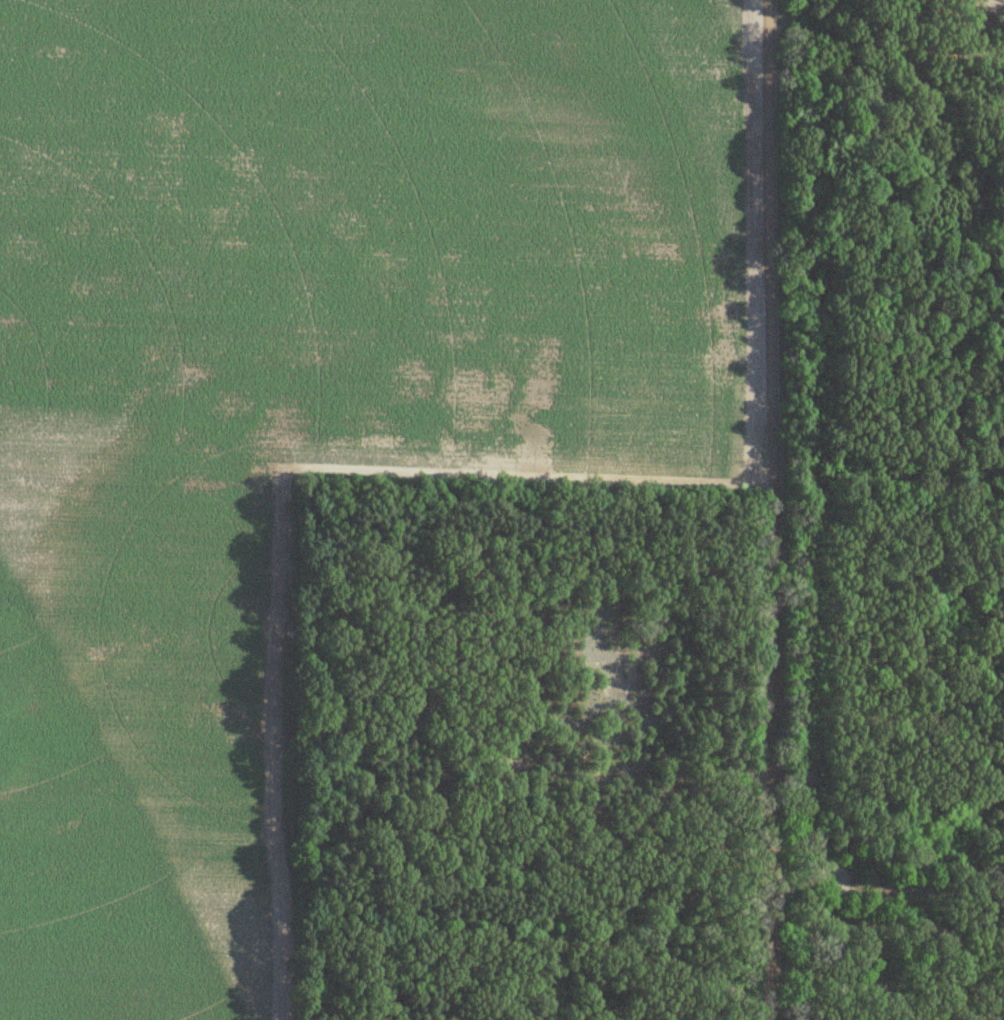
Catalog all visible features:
road: (773, 510)
parking lot: (824, 879)
road: (886, 889)

